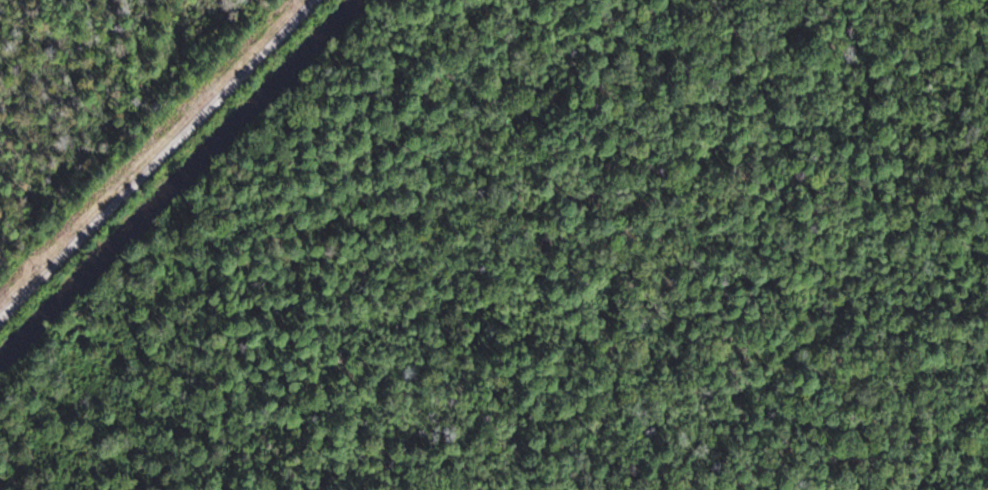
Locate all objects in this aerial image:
road: (156, 159)

